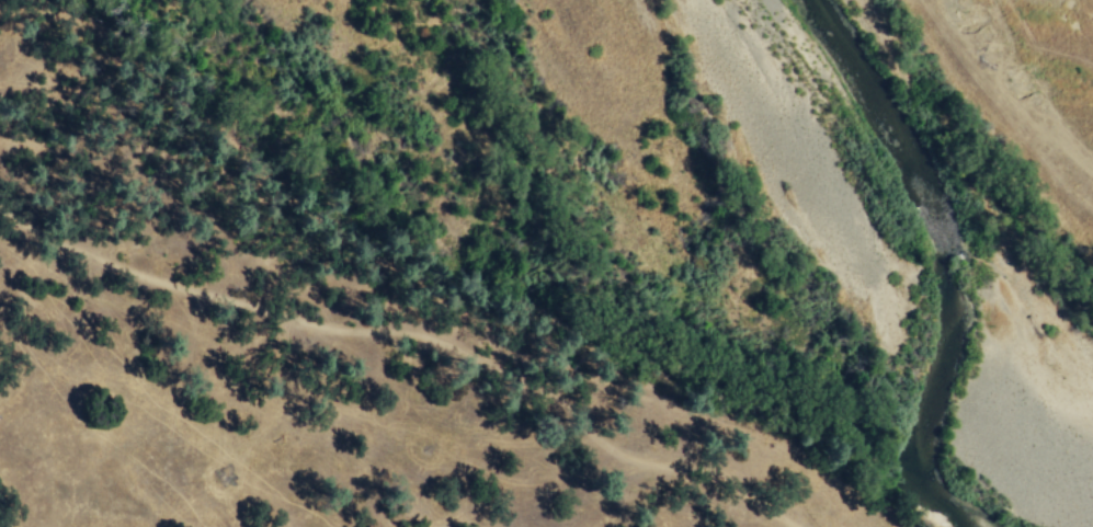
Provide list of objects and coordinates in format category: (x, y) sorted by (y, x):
river: (949, 256)

